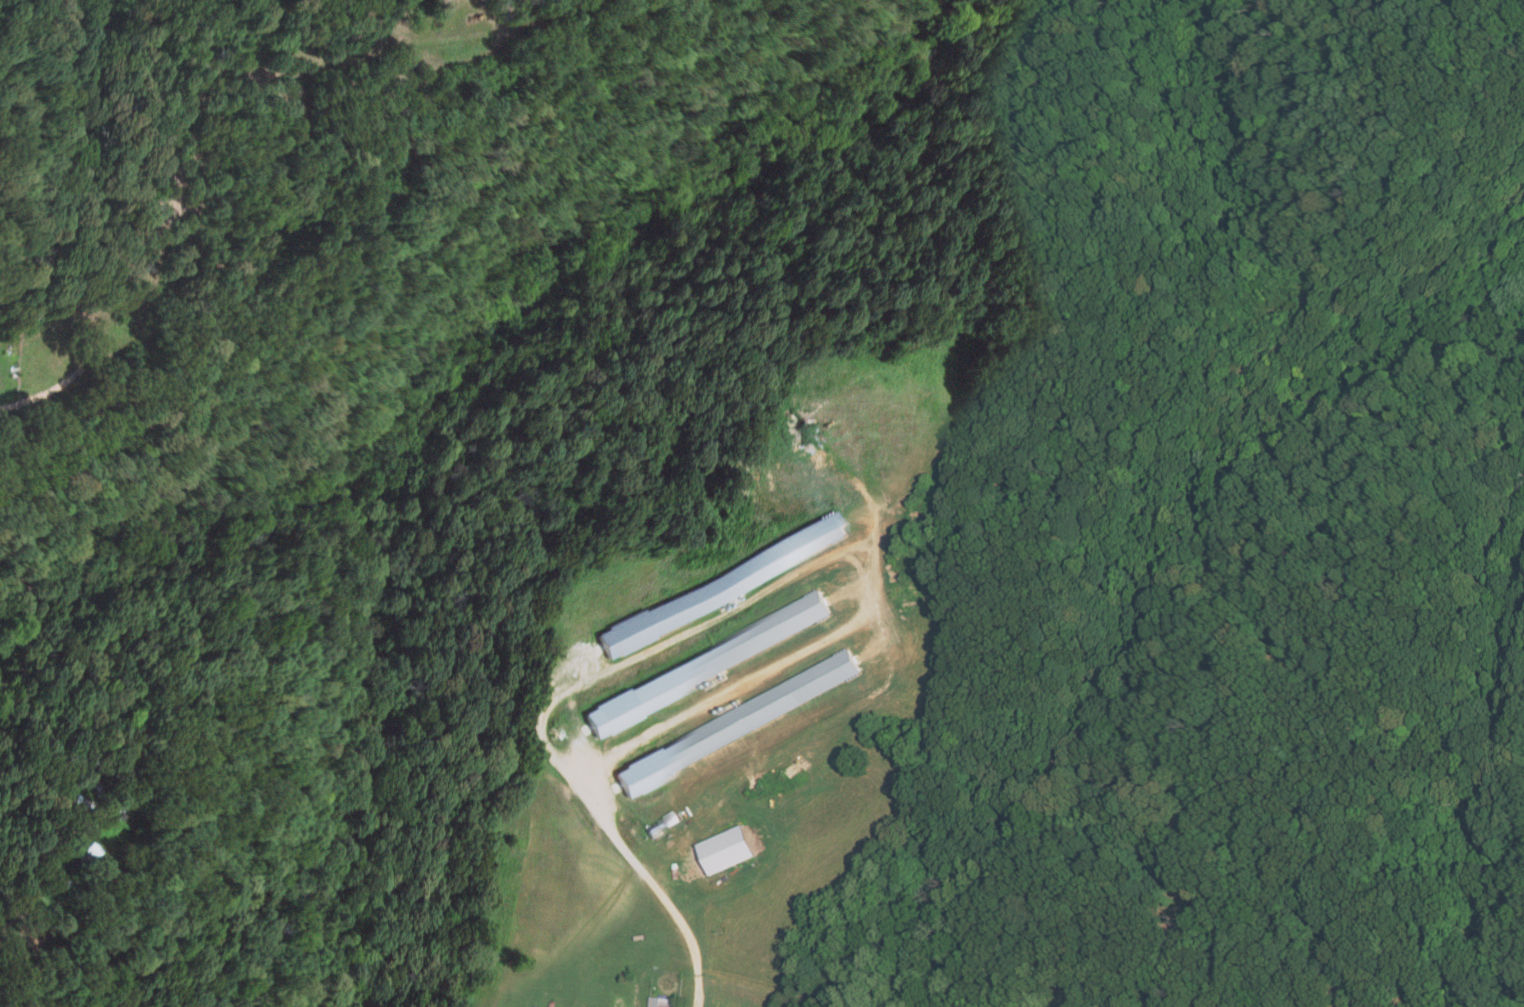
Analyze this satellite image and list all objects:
road: (171, 176)
building: (721, 584)
building: (708, 663)
building: (738, 723)
building: (670, 820)
building: (652, 829)
building: (727, 851)
building: (85, 852)
road: (698, 1000)
building: (664, 1001)

